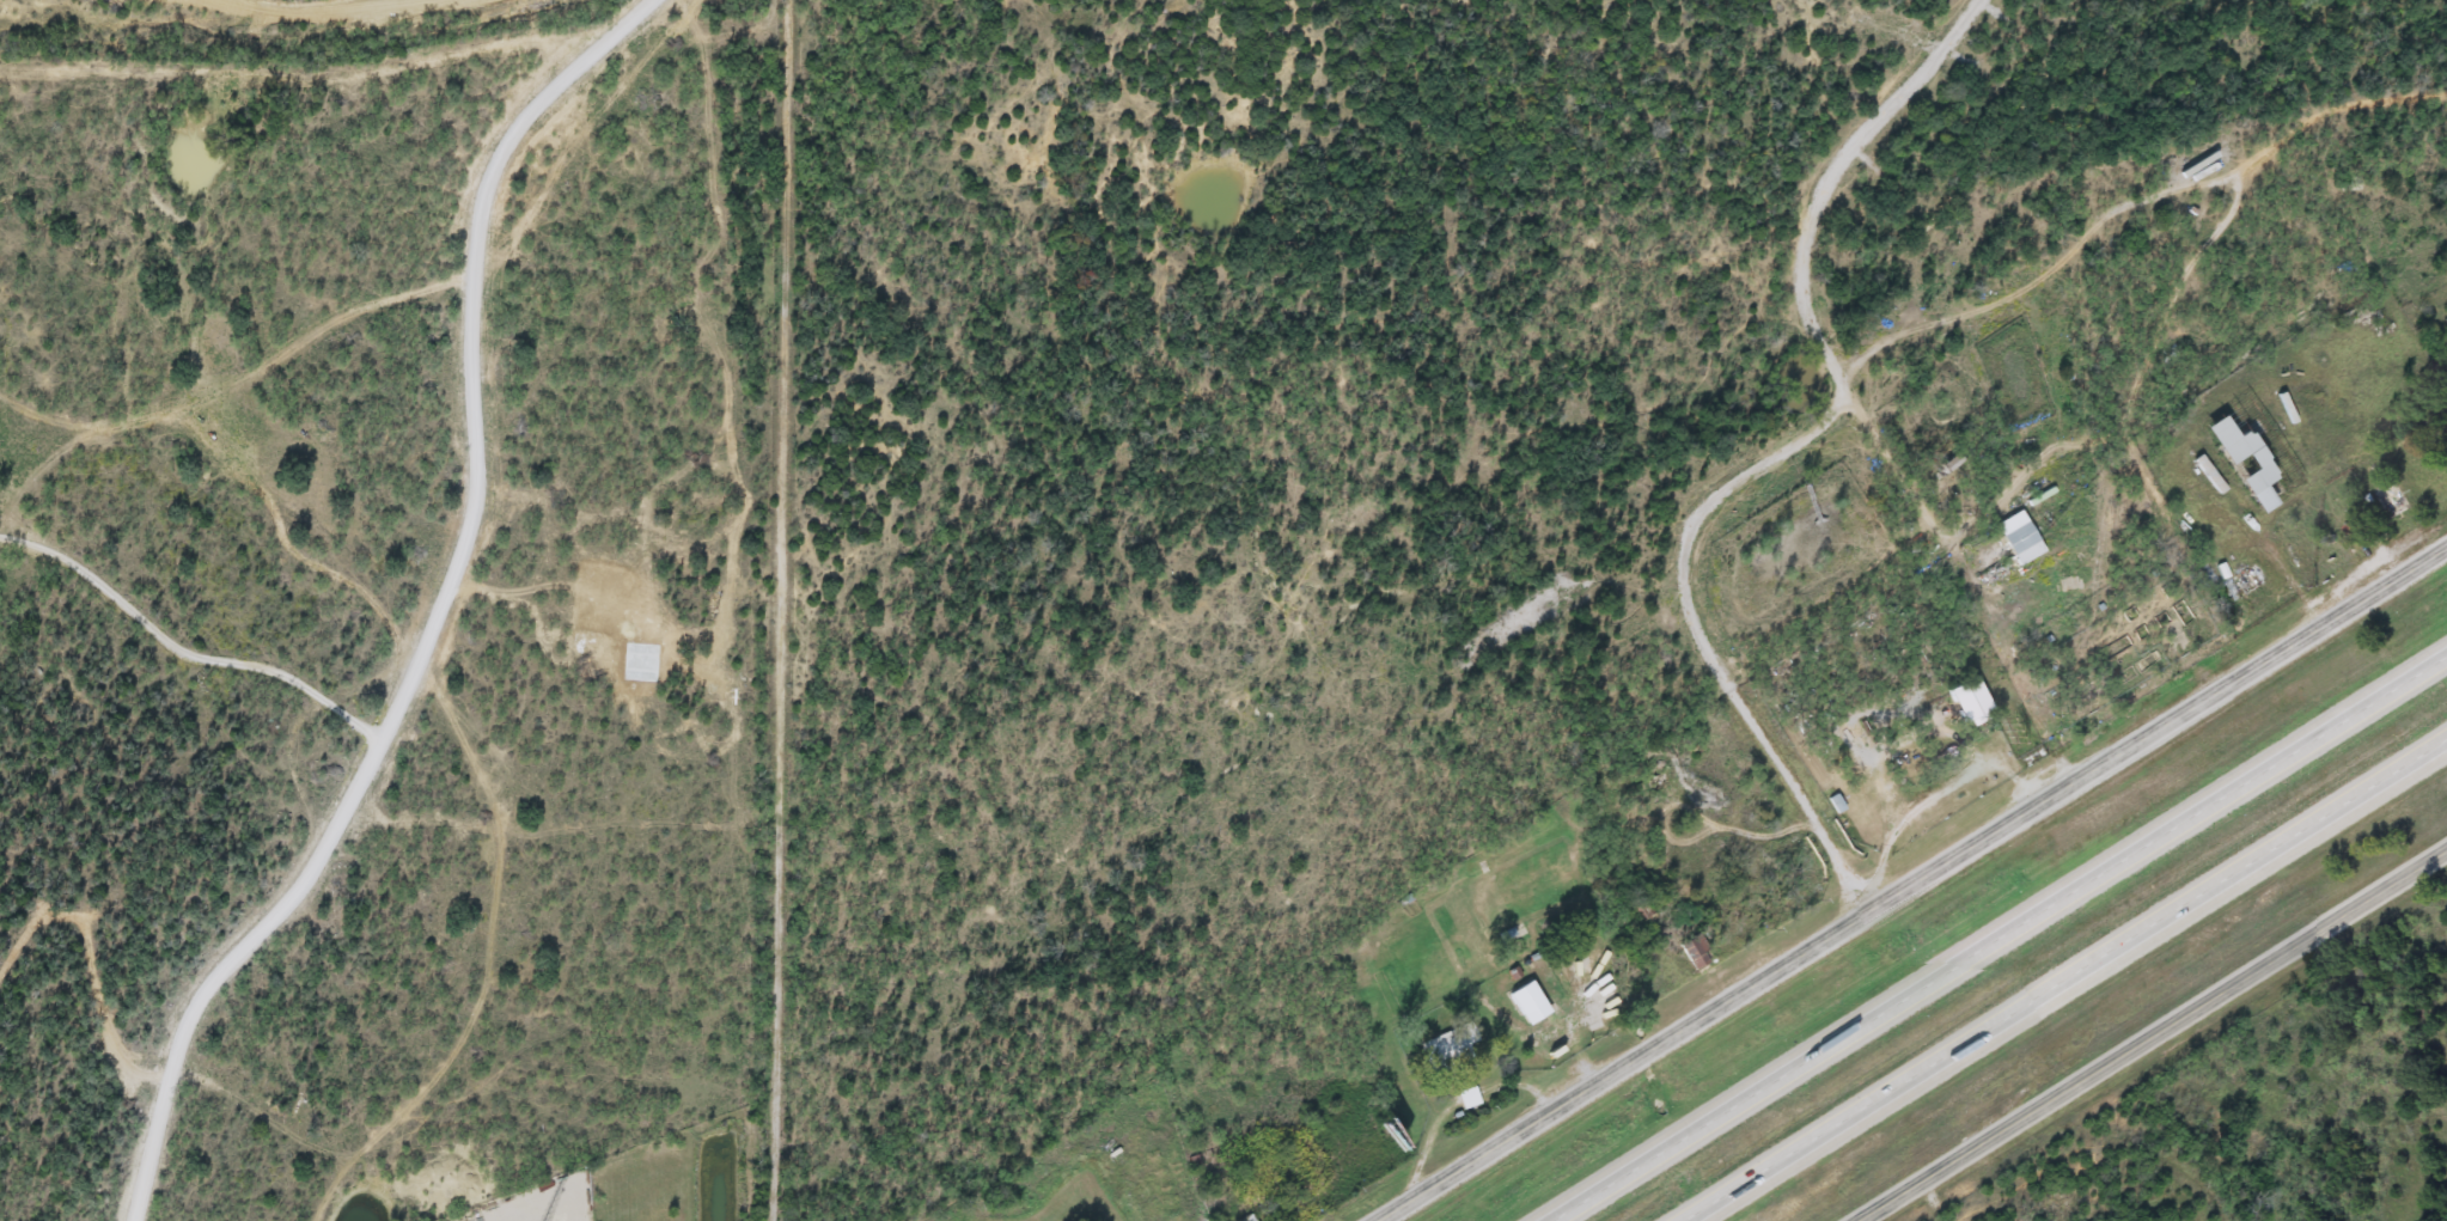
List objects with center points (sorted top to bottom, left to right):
building: (2197, 173)
building: (2250, 459)
building: (1945, 463)
building: (2205, 472)
building: (2015, 537)
road: (2226, 542)
building: (2240, 584)
road: (783, 610)
road: (443, 615)
road: (185, 653)
building: (1964, 698)
road: (1910, 885)
building: (1806, 889)
road: (1999, 940)
building: (1694, 954)
road: (2063, 978)
building: (1525, 1002)
road: (2146, 1030)
building: (1444, 1046)
building: (1465, 1098)
building: (1379, 1133)

